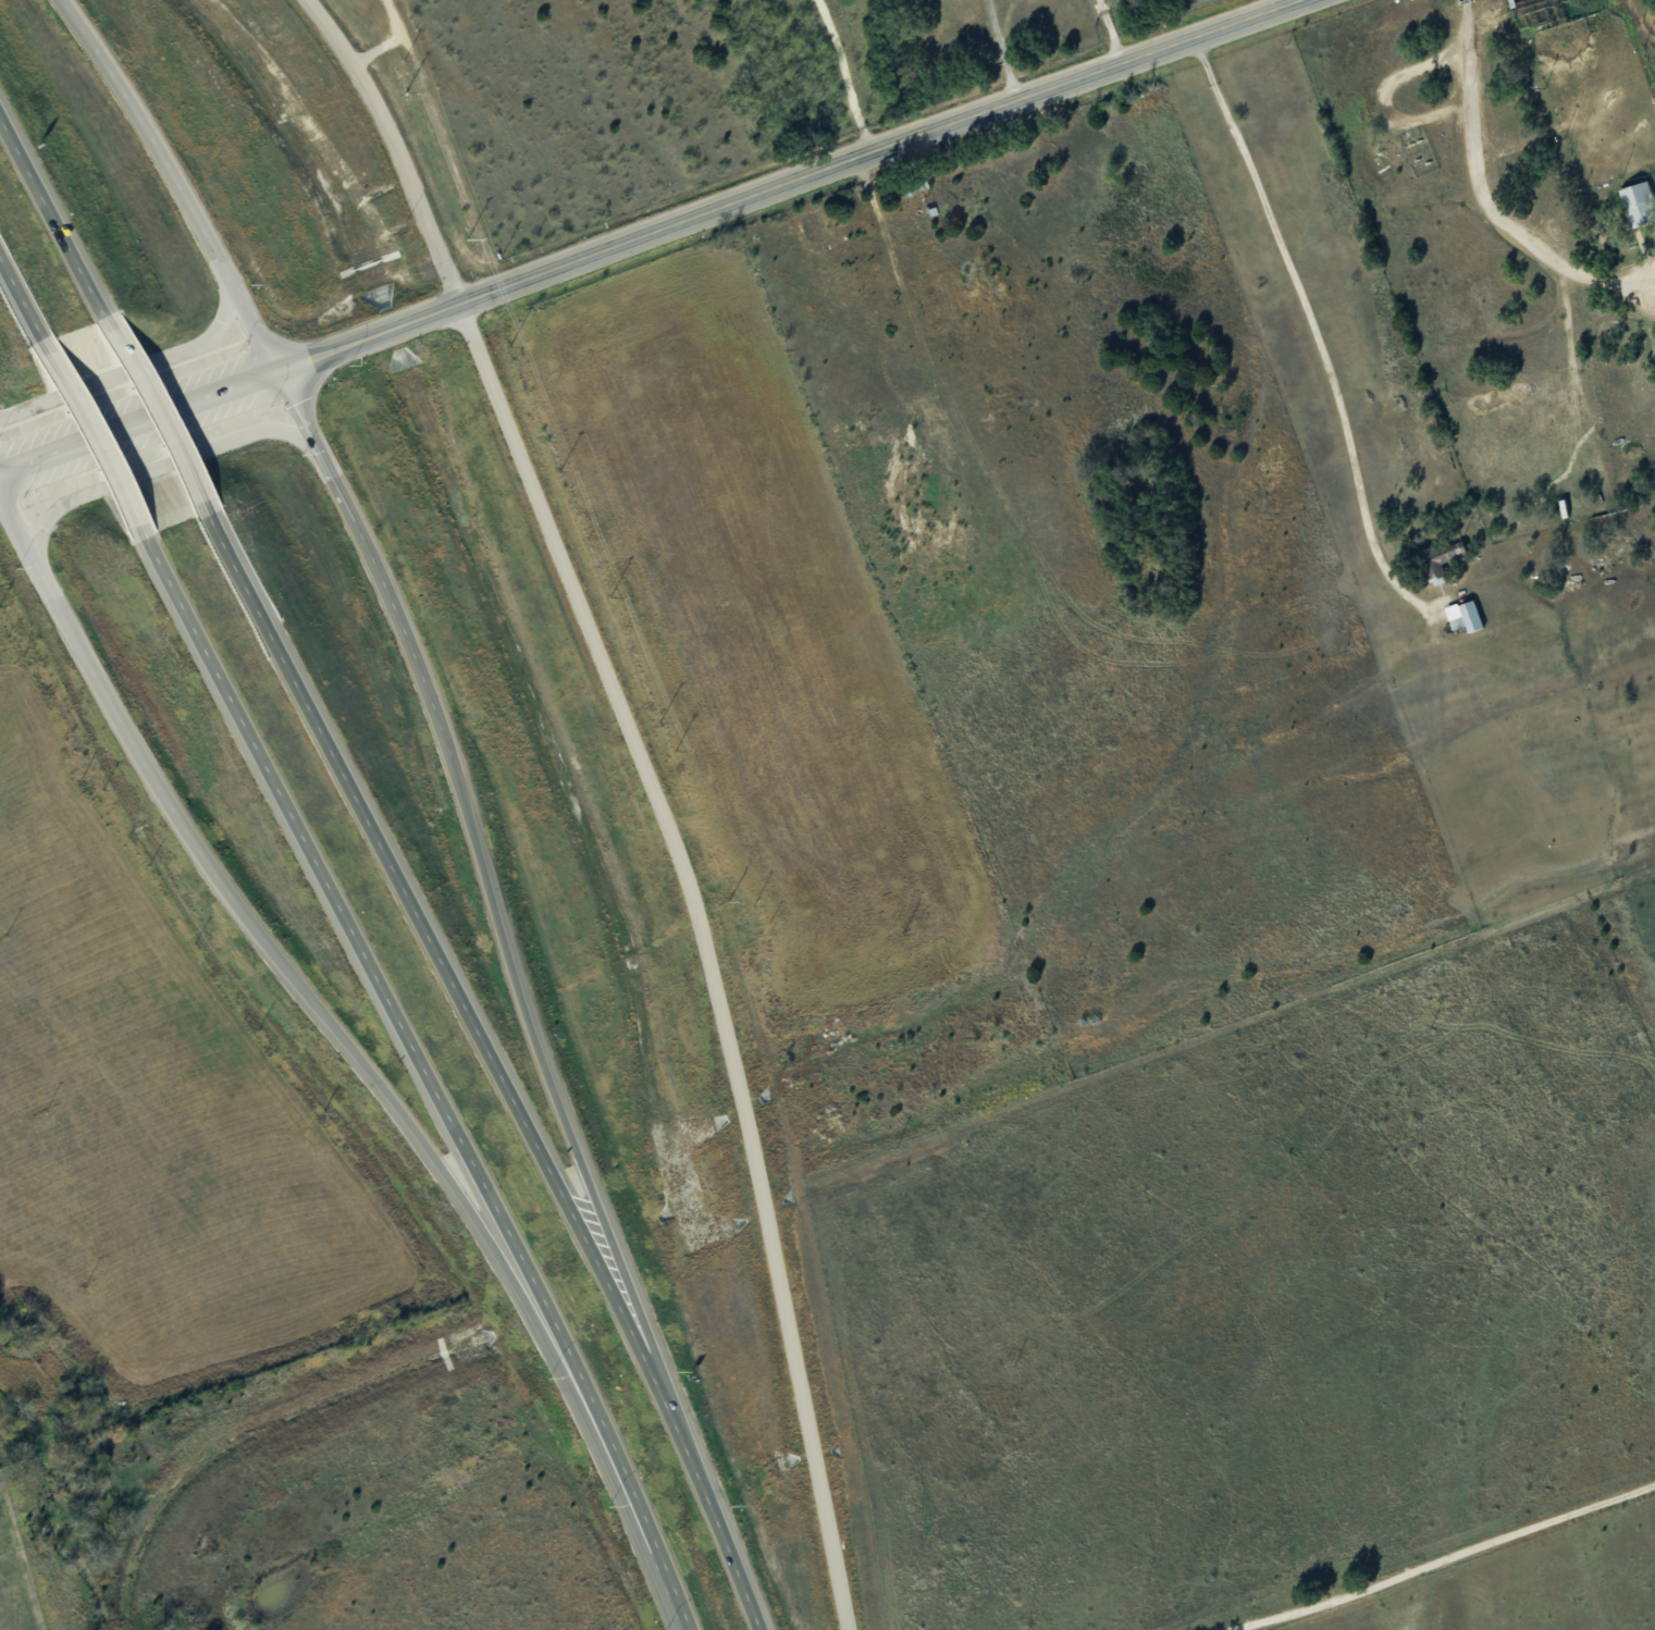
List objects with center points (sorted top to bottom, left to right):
road: (1109, 33)
road: (390, 41)
road: (999, 52)
road: (848, 76)
road: (1008, 107)
road: (174, 181)
road: (1486, 196)
building: (1637, 202)
road: (53, 220)
road: (22, 299)
road: (1314, 332)
road: (354, 343)
road: (133, 368)
road: (153, 412)
road: (91, 435)
road: (149, 469)
building: (1438, 557)
building: (1462, 615)
road: (651, 789)
road: (494, 915)
road: (450, 984)
road: (304, 991)
road: (387, 997)
road: (726, 1548)
road: (652, 1549)
road: (1446, 1558)

